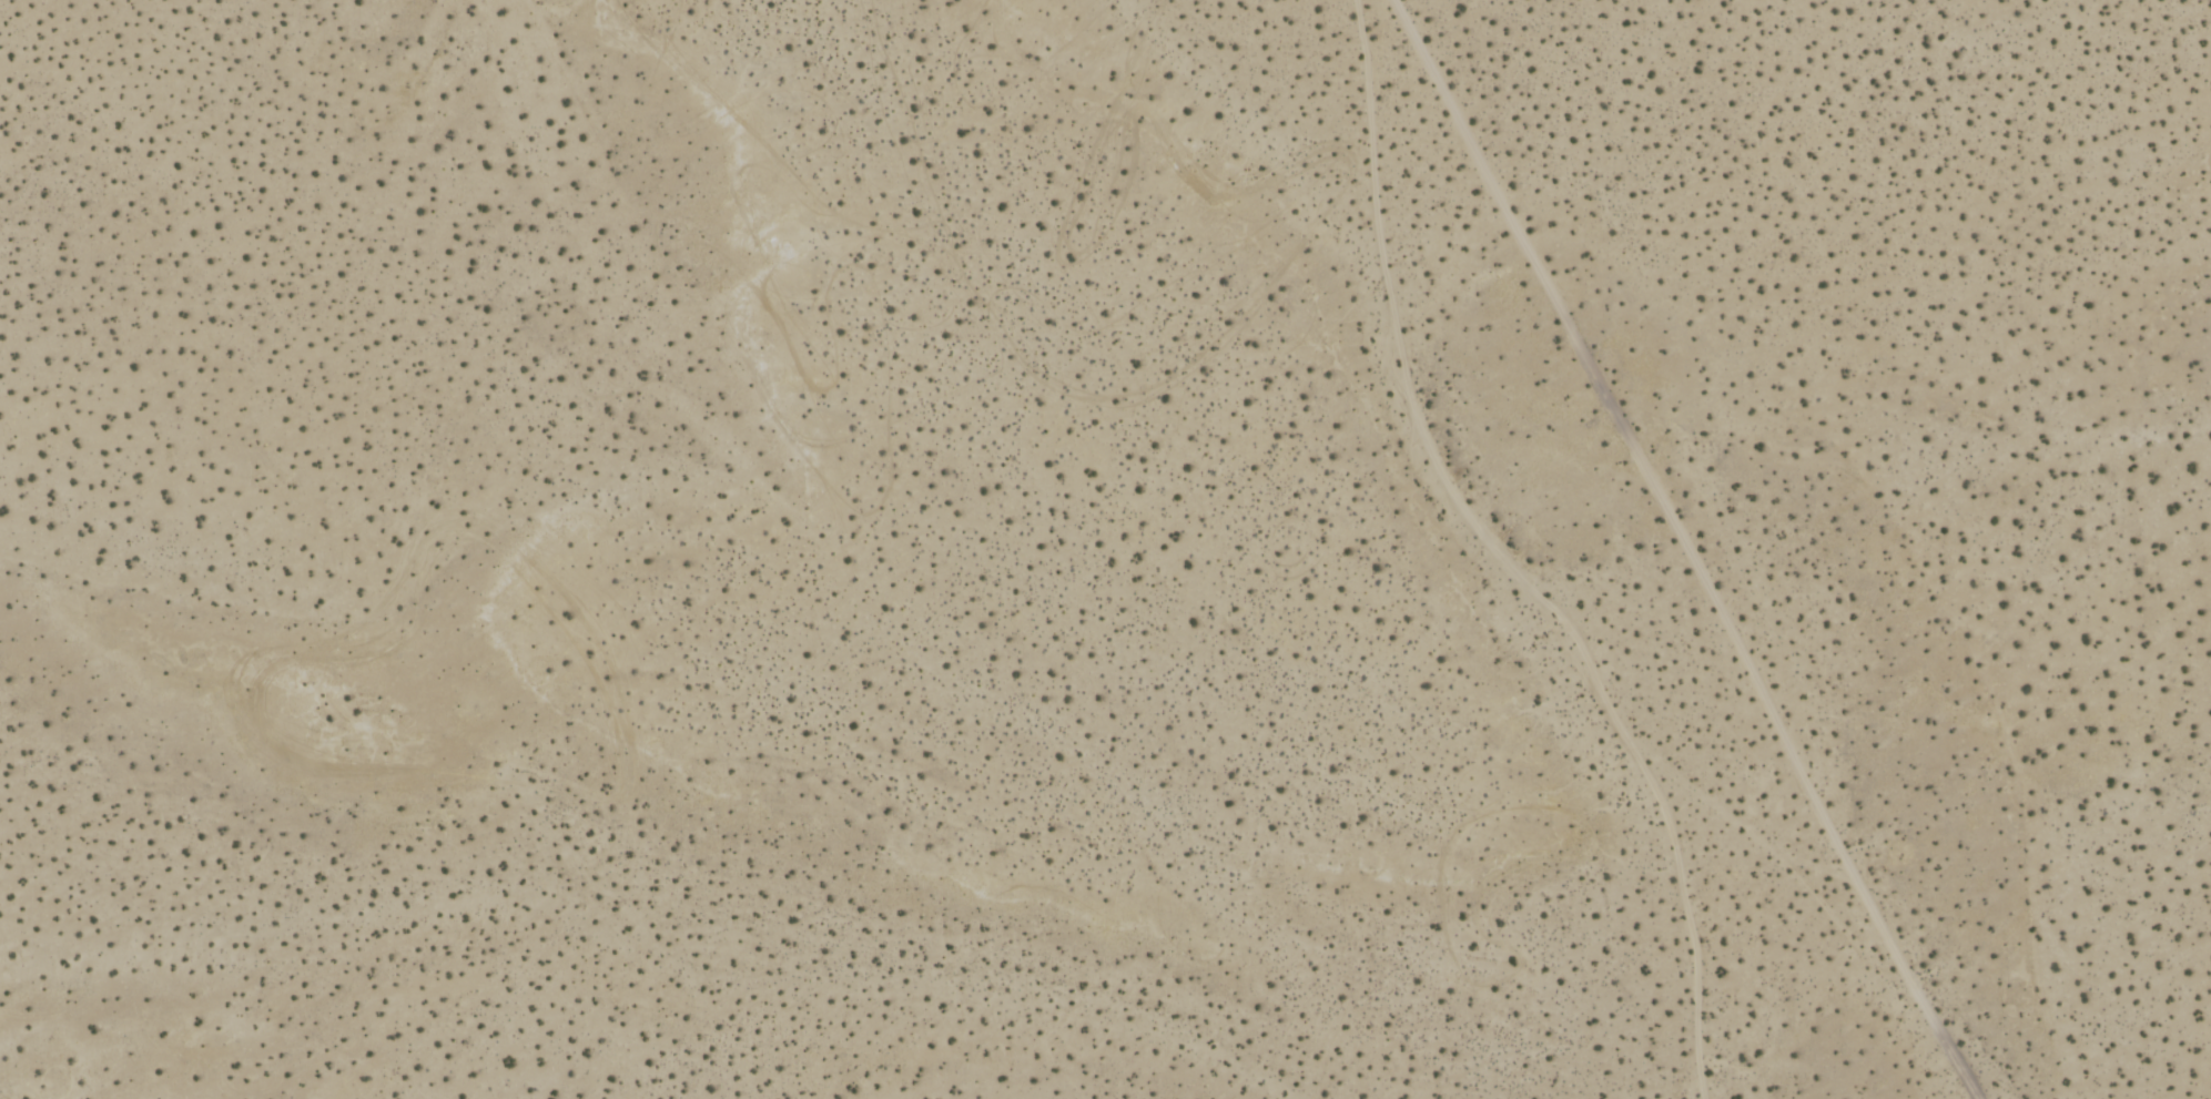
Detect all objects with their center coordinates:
road: (1493, 559)

